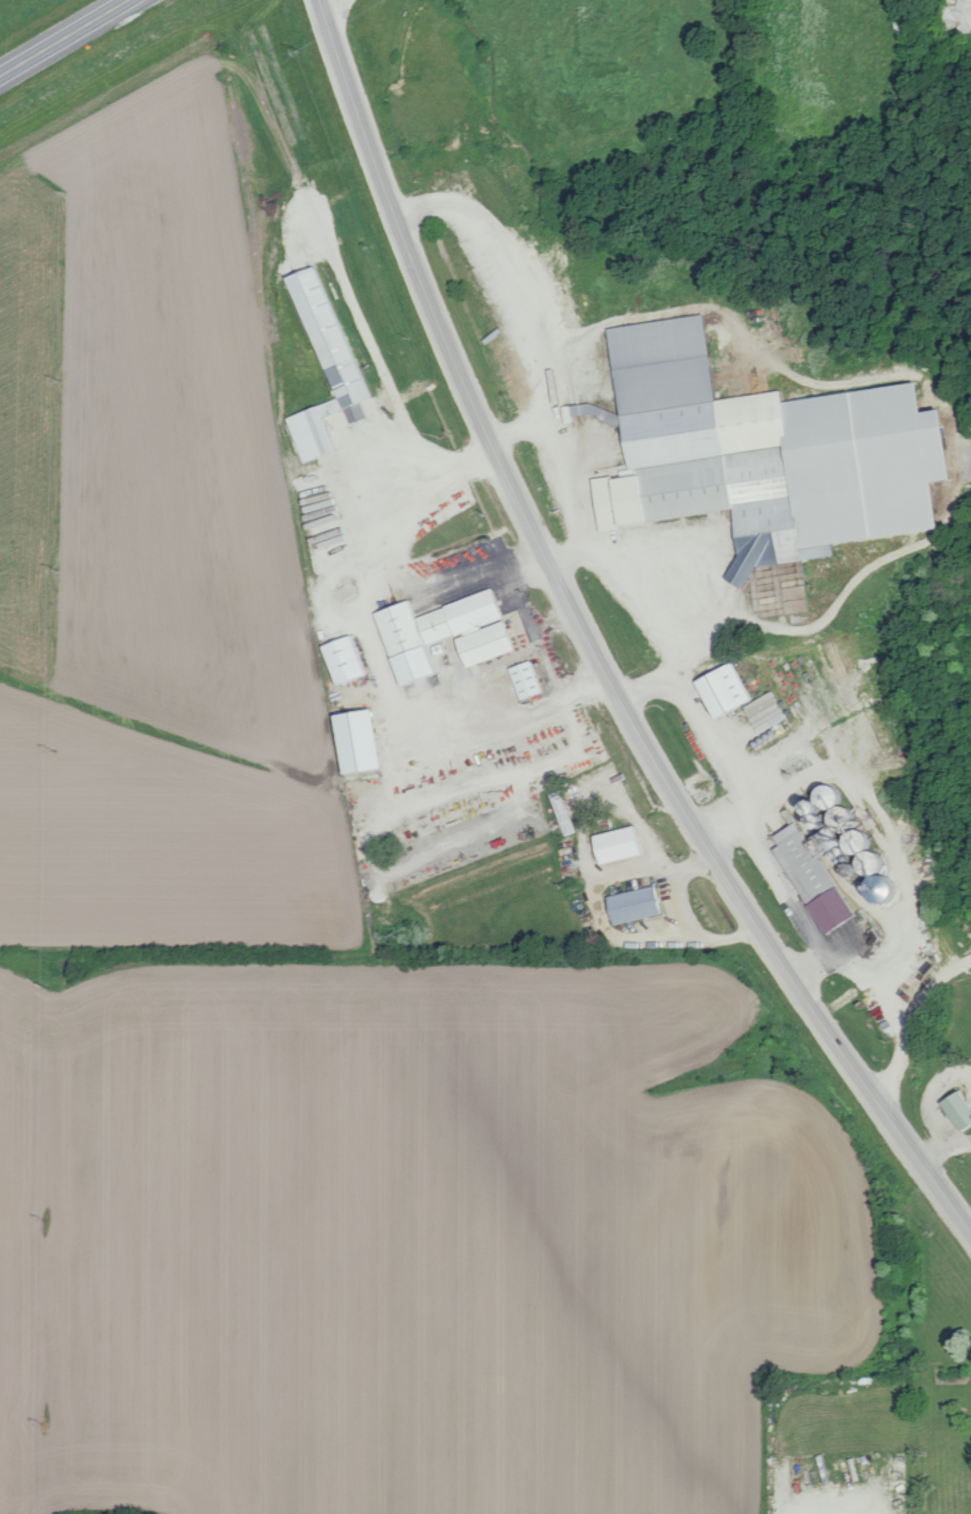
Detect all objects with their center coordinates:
road: (328, 3)
road: (67, 39)
road: (514, 313)
building: (323, 363)
road: (520, 431)
building: (757, 452)
road: (401, 489)
road: (711, 544)
road: (565, 552)
building: (438, 633)
road: (591, 645)
building: (340, 659)
road: (371, 675)
building: (523, 679)
building: (722, 689)
building: (764, 711)
building: (350, 740)
road: (741, 759)
building: (560, 811)
road: (383, 813)
building: (615, 844)
building: (822, 852)
road: (625, 876)
building: (632, 904)
road: (807, 924)
road: (681, 938)
road: (899, 1017)
building: (954, 1110)
road: (944, 1148)

